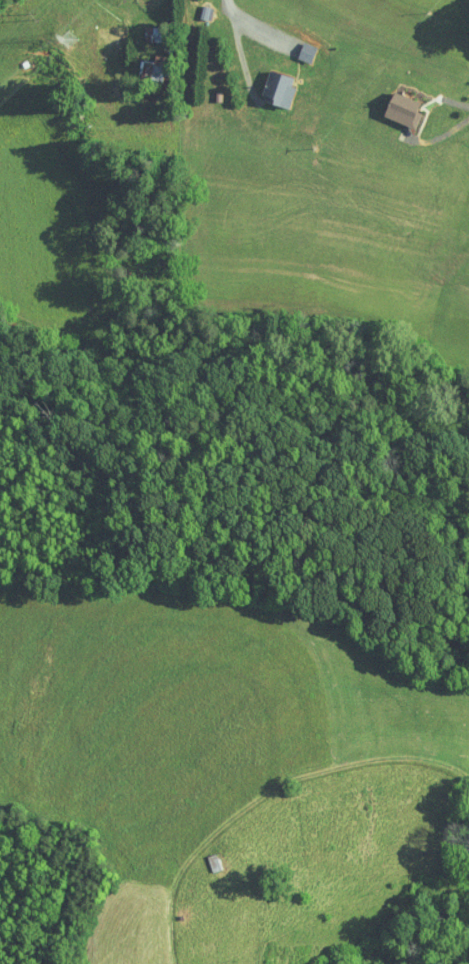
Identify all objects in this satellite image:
power tower: (34, 15)
road: (252, 25)
power tower: (60, 39)
building: (145, 65)
building: (272, 83)
building: (398, 104)
road: (267, 792)

